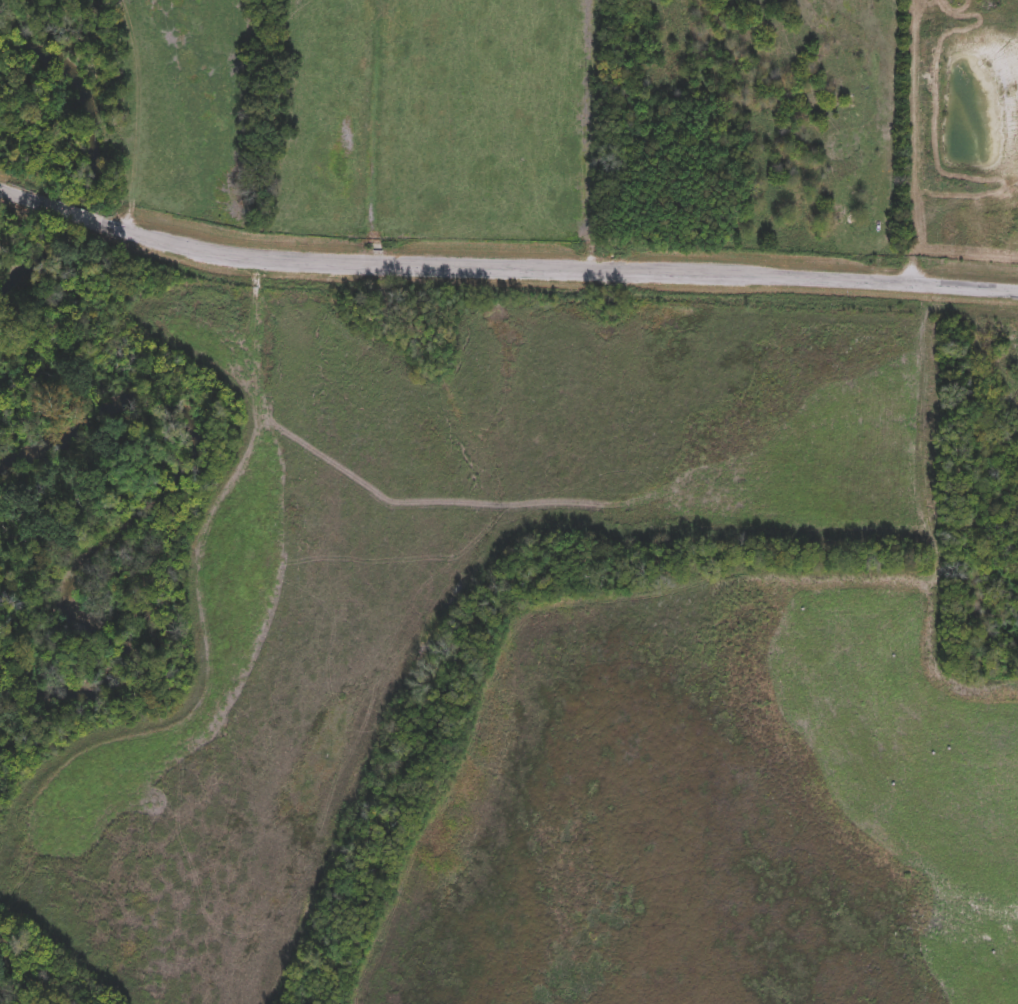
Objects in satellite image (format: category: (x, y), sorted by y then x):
road: (504, 263)

